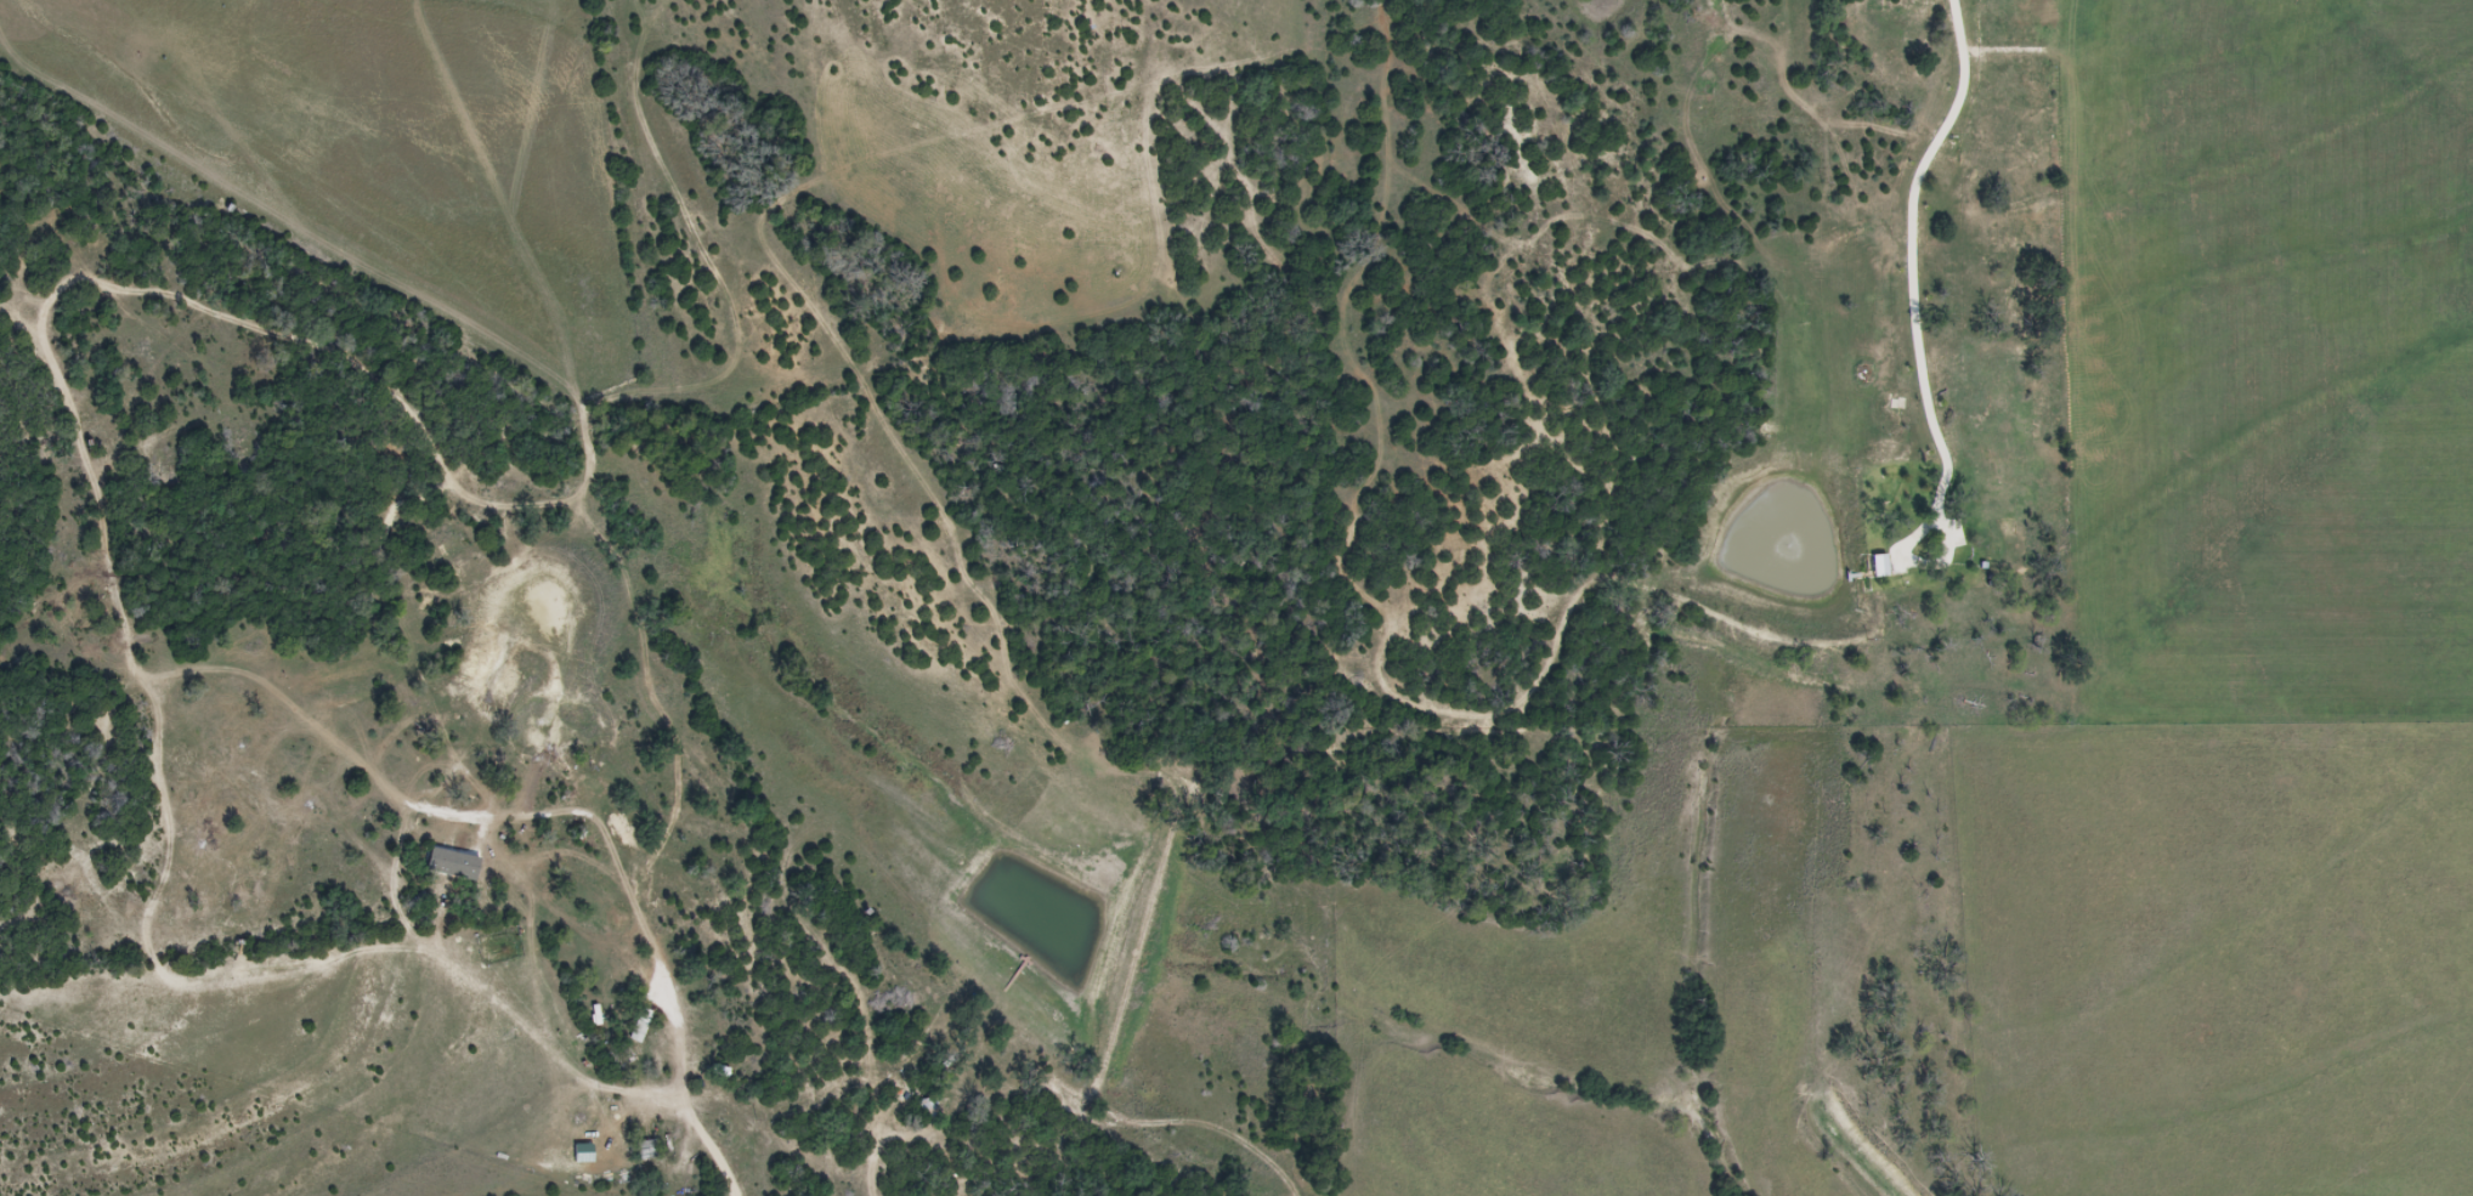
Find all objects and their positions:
building: (1923, 11)
building: (1901, 406)
road: (640, 1009)

